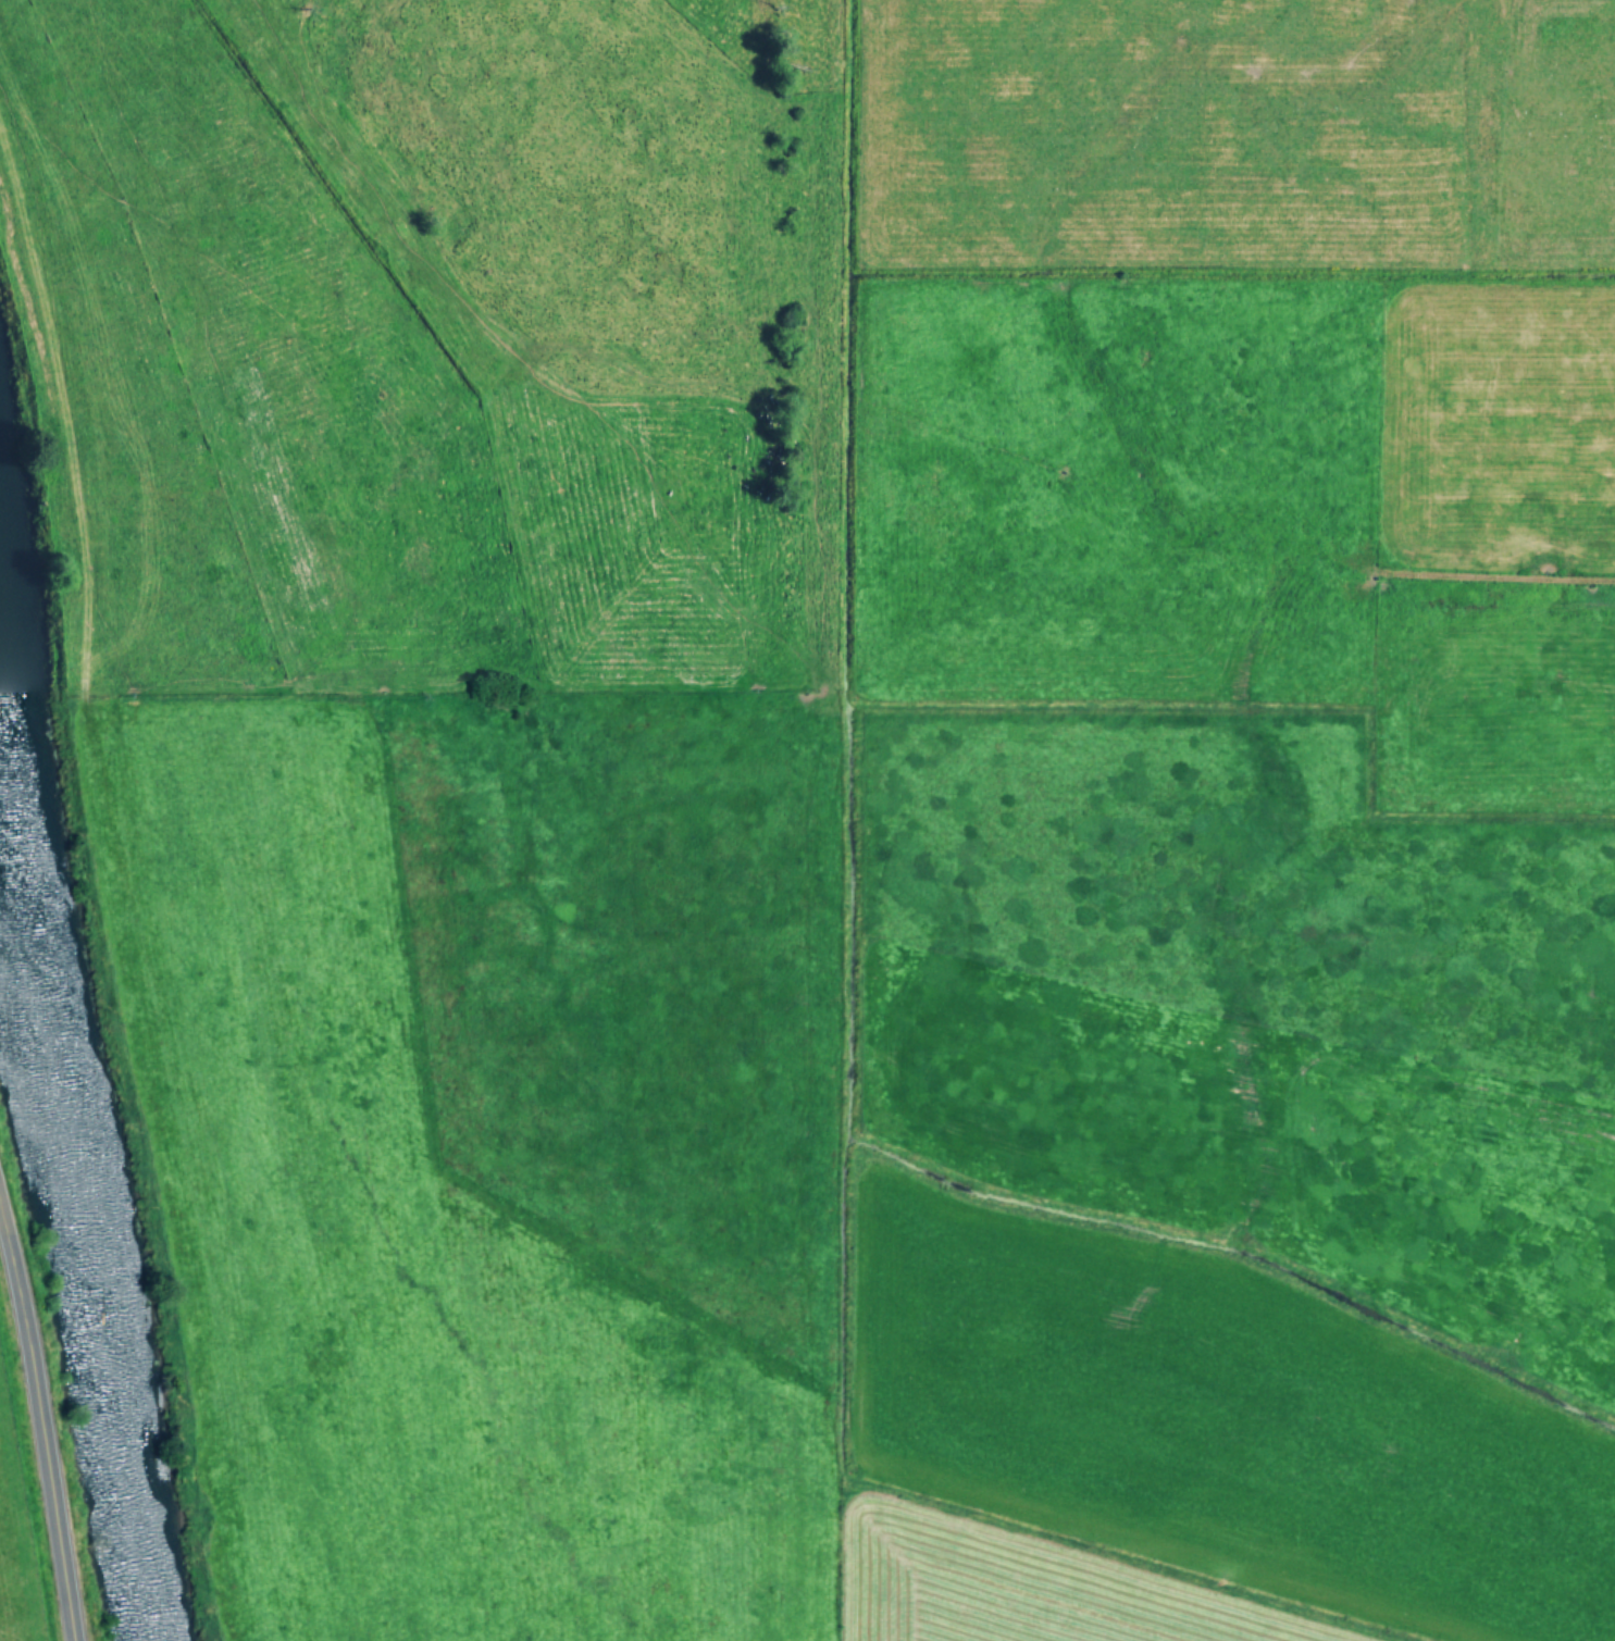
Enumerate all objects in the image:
crop: (860, 798)
river: (83, 1111)
road: (42, 1427)
crop: (18, 1545)

